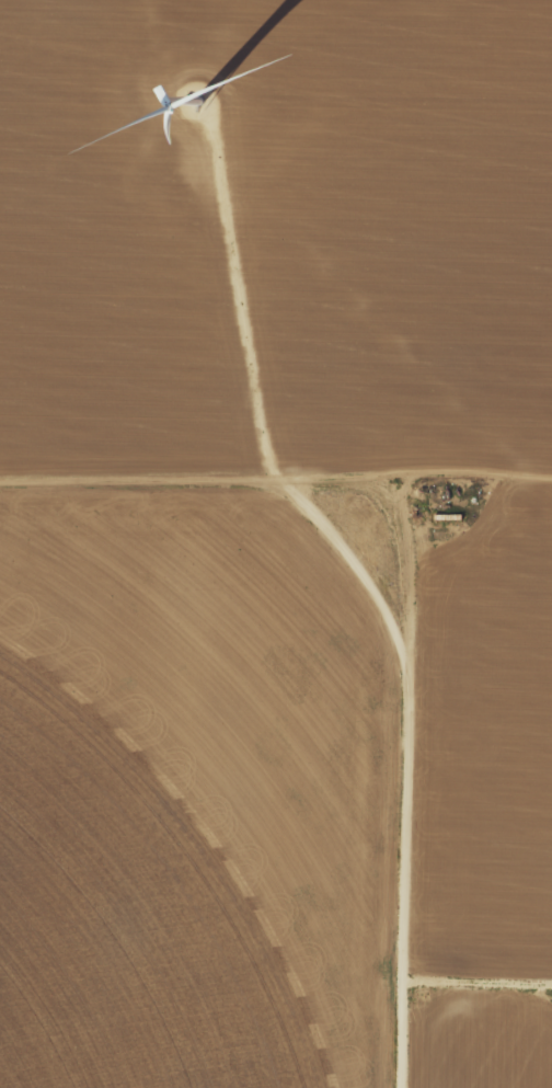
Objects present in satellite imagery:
wind turbine: (209, 92)
road: (384, 597)

